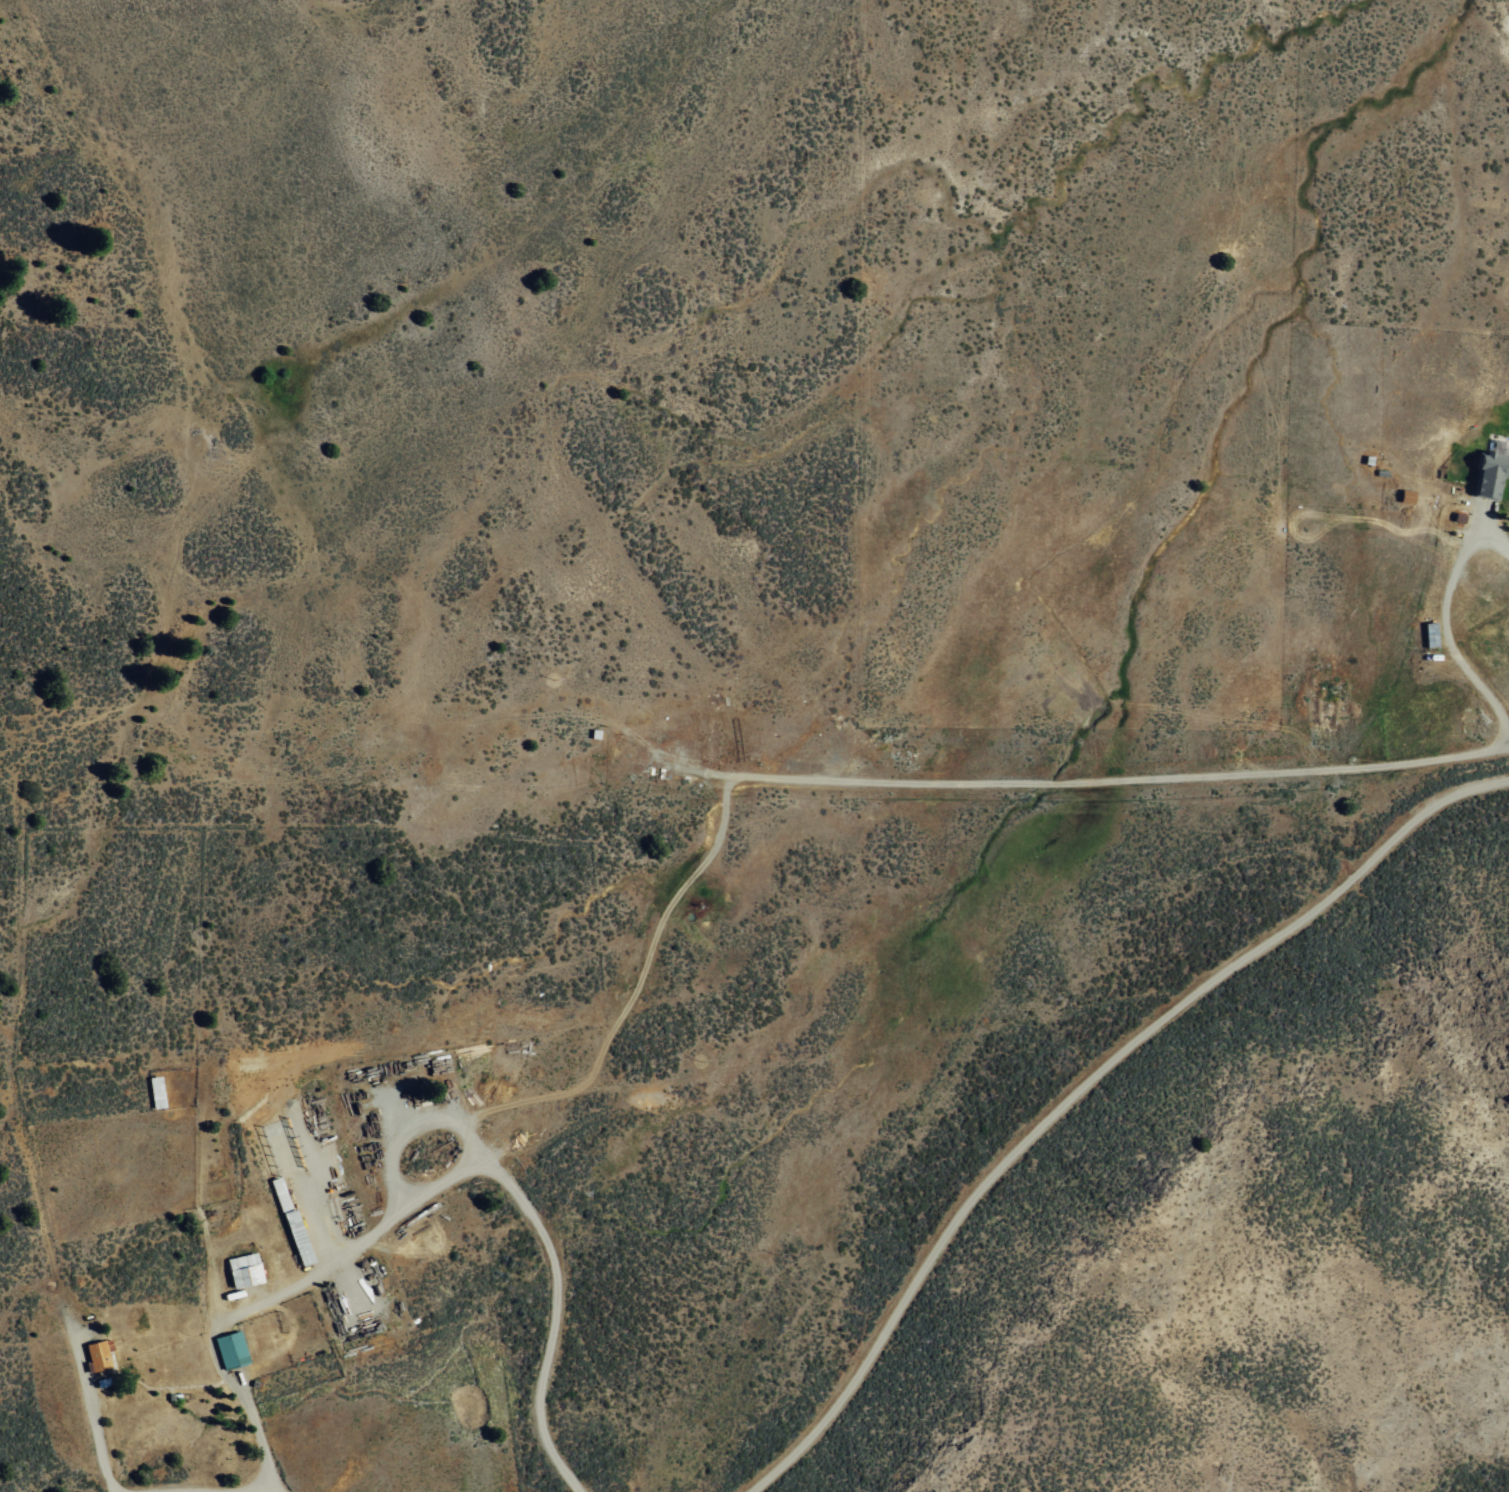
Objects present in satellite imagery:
building: (1490, 470)
building: (1406, 496)
crop: (855, 696)
building: (155, 1091)
building: (278, 1149)
building: (290, 1220)
building: (243, 1269)
building: (230, 1348)
building: (95, 1355)

